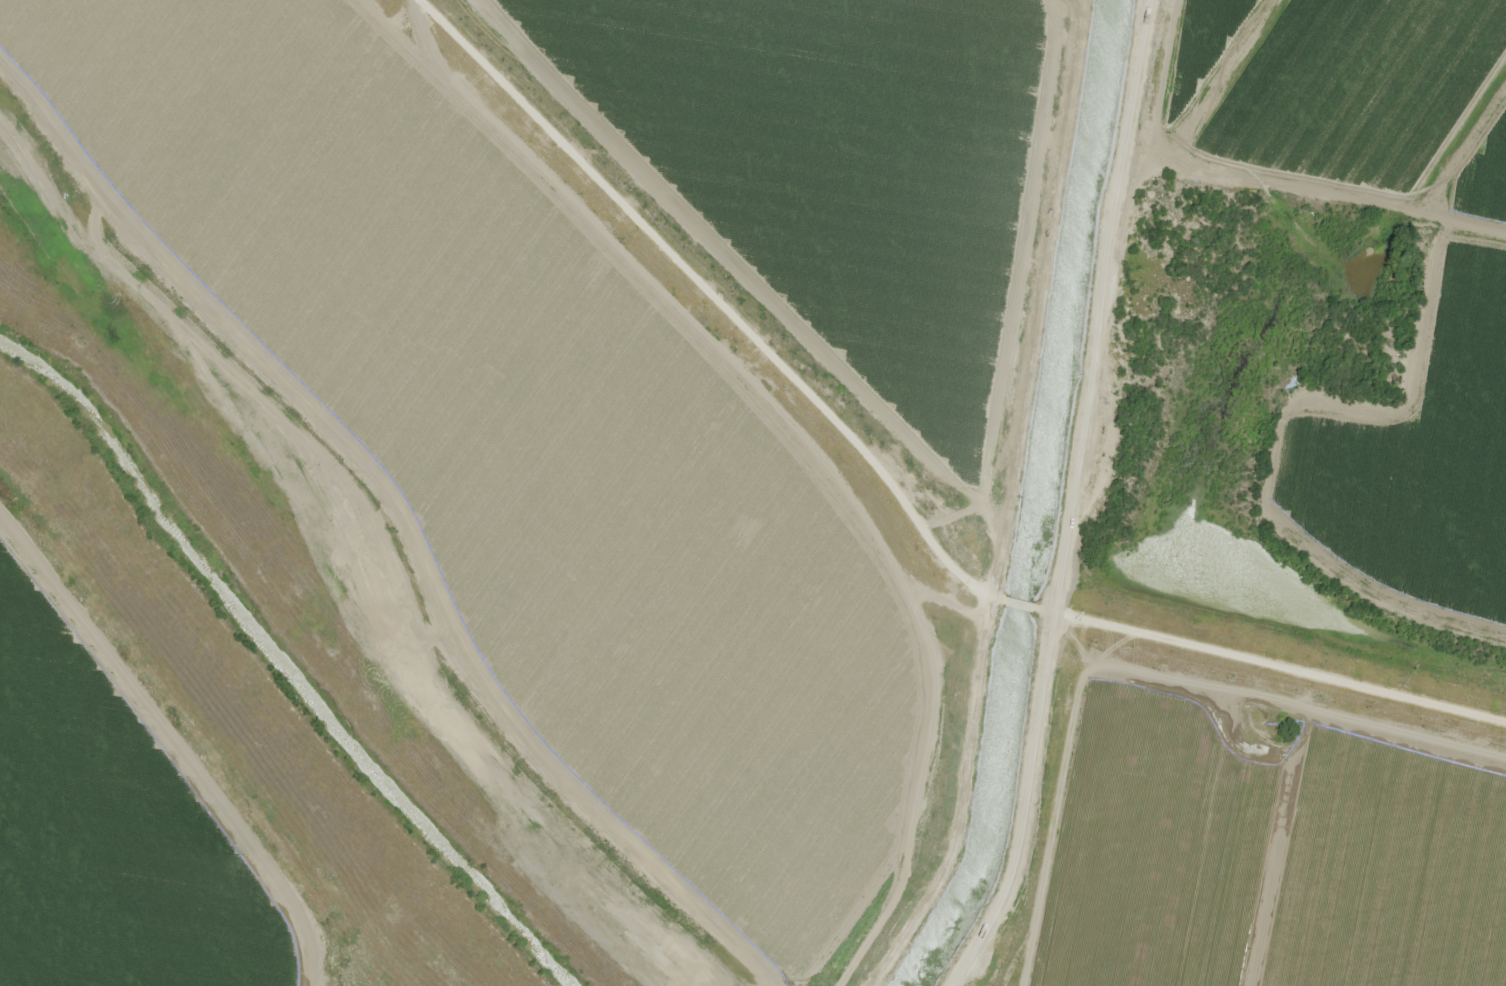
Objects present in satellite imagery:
road: (1336, 196)
road: (739, 290)
road: (1095, 495)
road: (1025, 606)
road: (1275, 663)
road: (952, 799)
road: (242, 895)

